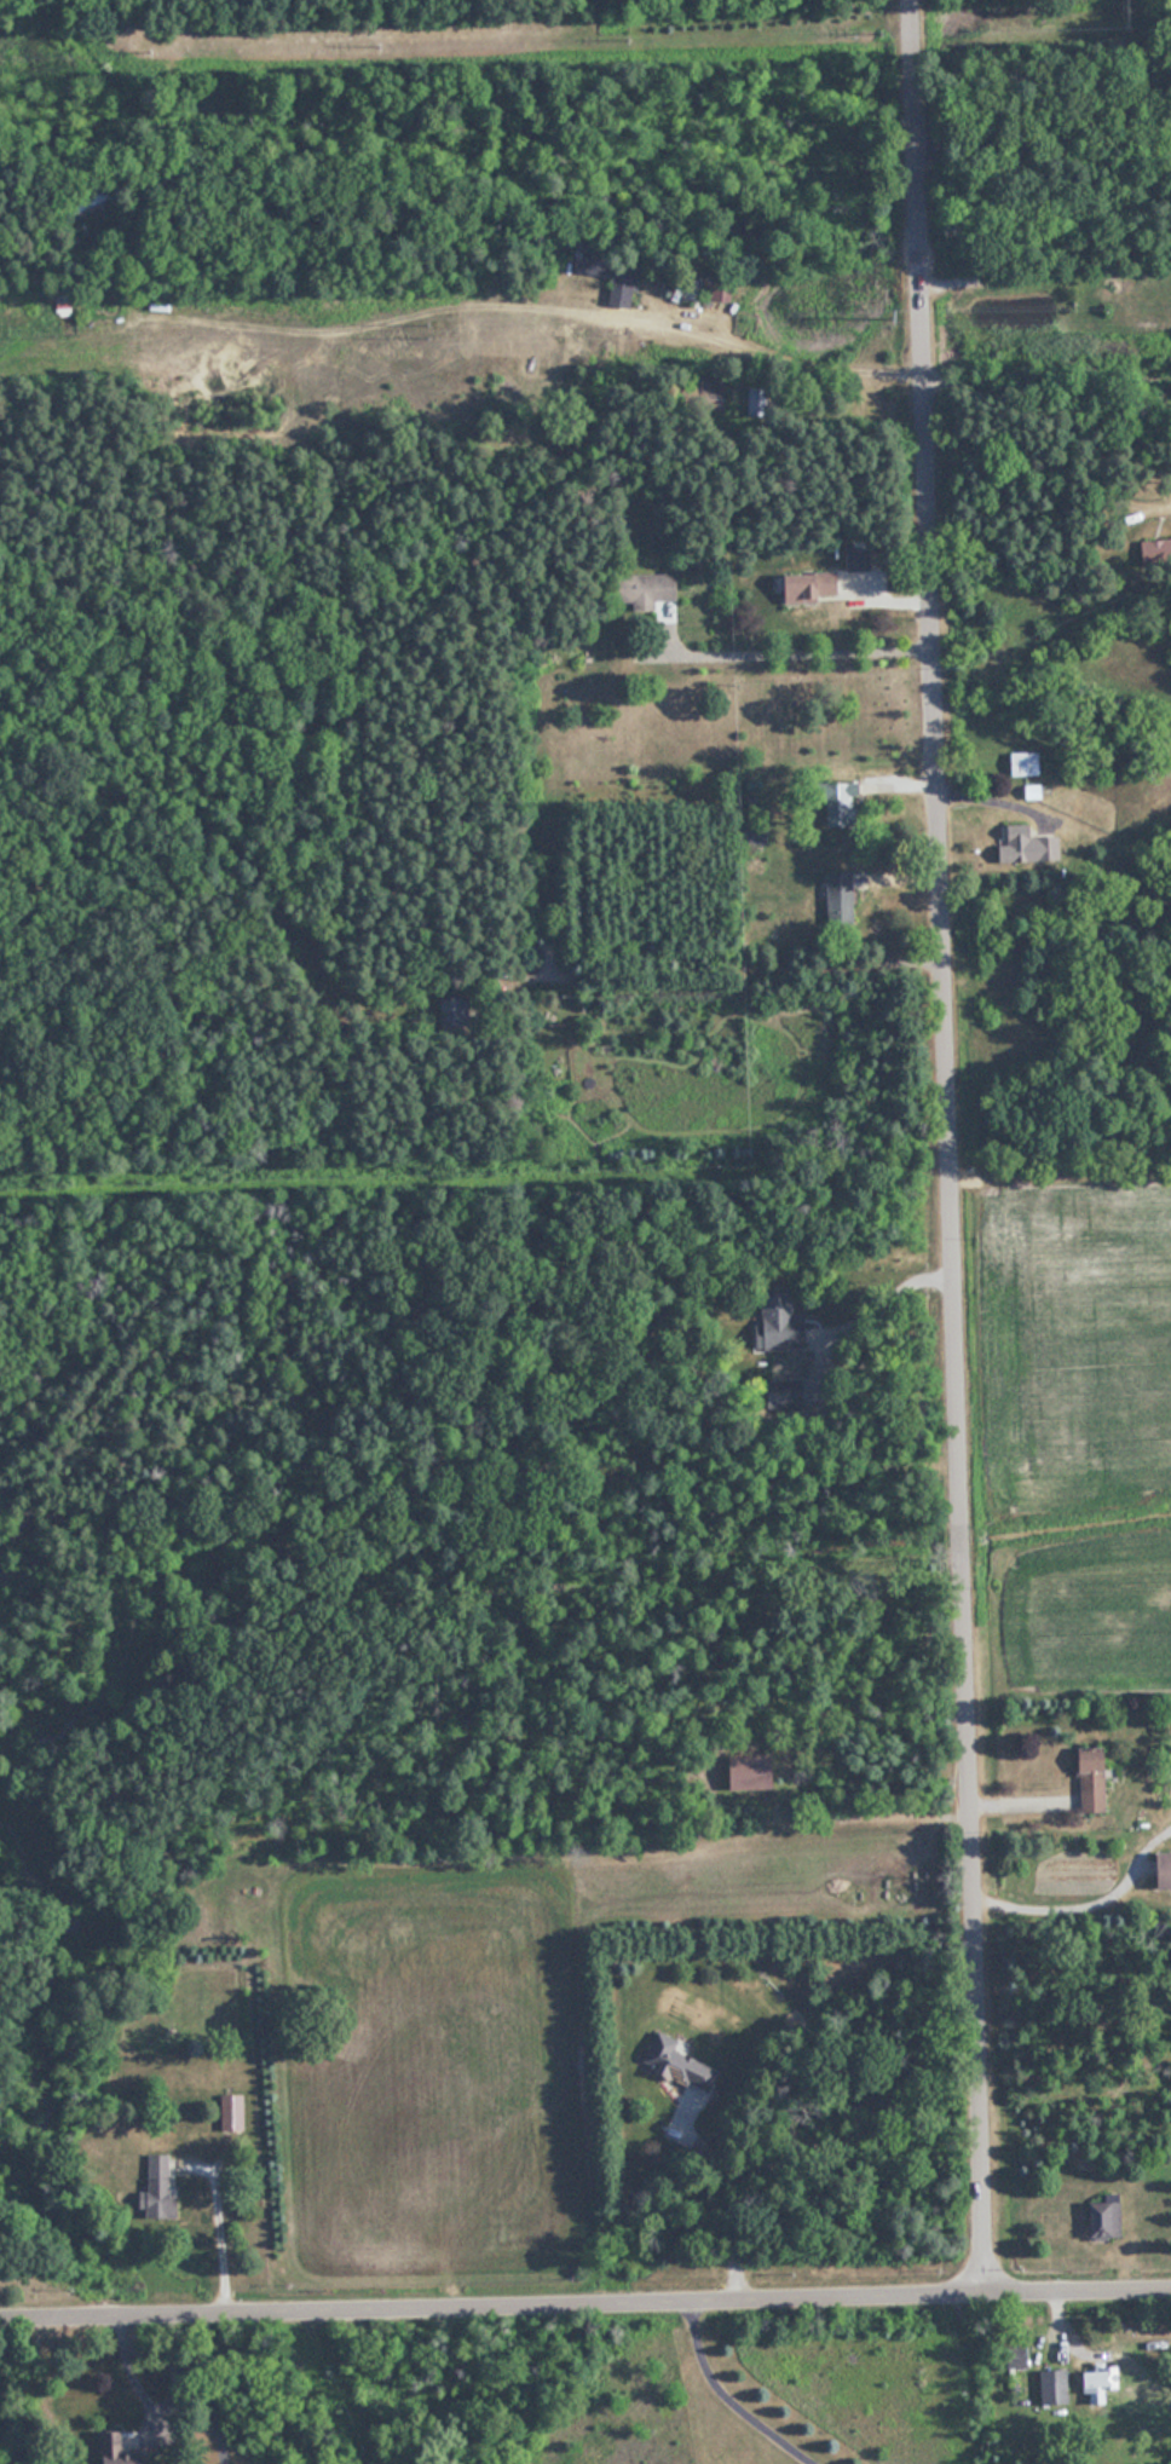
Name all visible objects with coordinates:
building: (615, 277)
road: (519, 283)
power tower: (887, 316)
power tower: (435, 329)
building: (812, 587)
building: (648, 590)
road: (790, 648)
building: (1026, 764)
building: (1031, 846)
building: (842, 898)
building: (448, 1011)
road: (948, 1148)
road: (858, 1296)
building: (786, 1329)
building: (1096, 1779)
building: (683, 2065)
building: (233, 2108)
building: (158, 2180)
road: (722, 2209)
building: (1108, 2218)
road: (585, 2301)
building: (1010, 2356)
building: (1088, 2378)
road: (207, 2384)
building: (1048, 2387)
road: (726, 2397)
building: (115, 2448)

